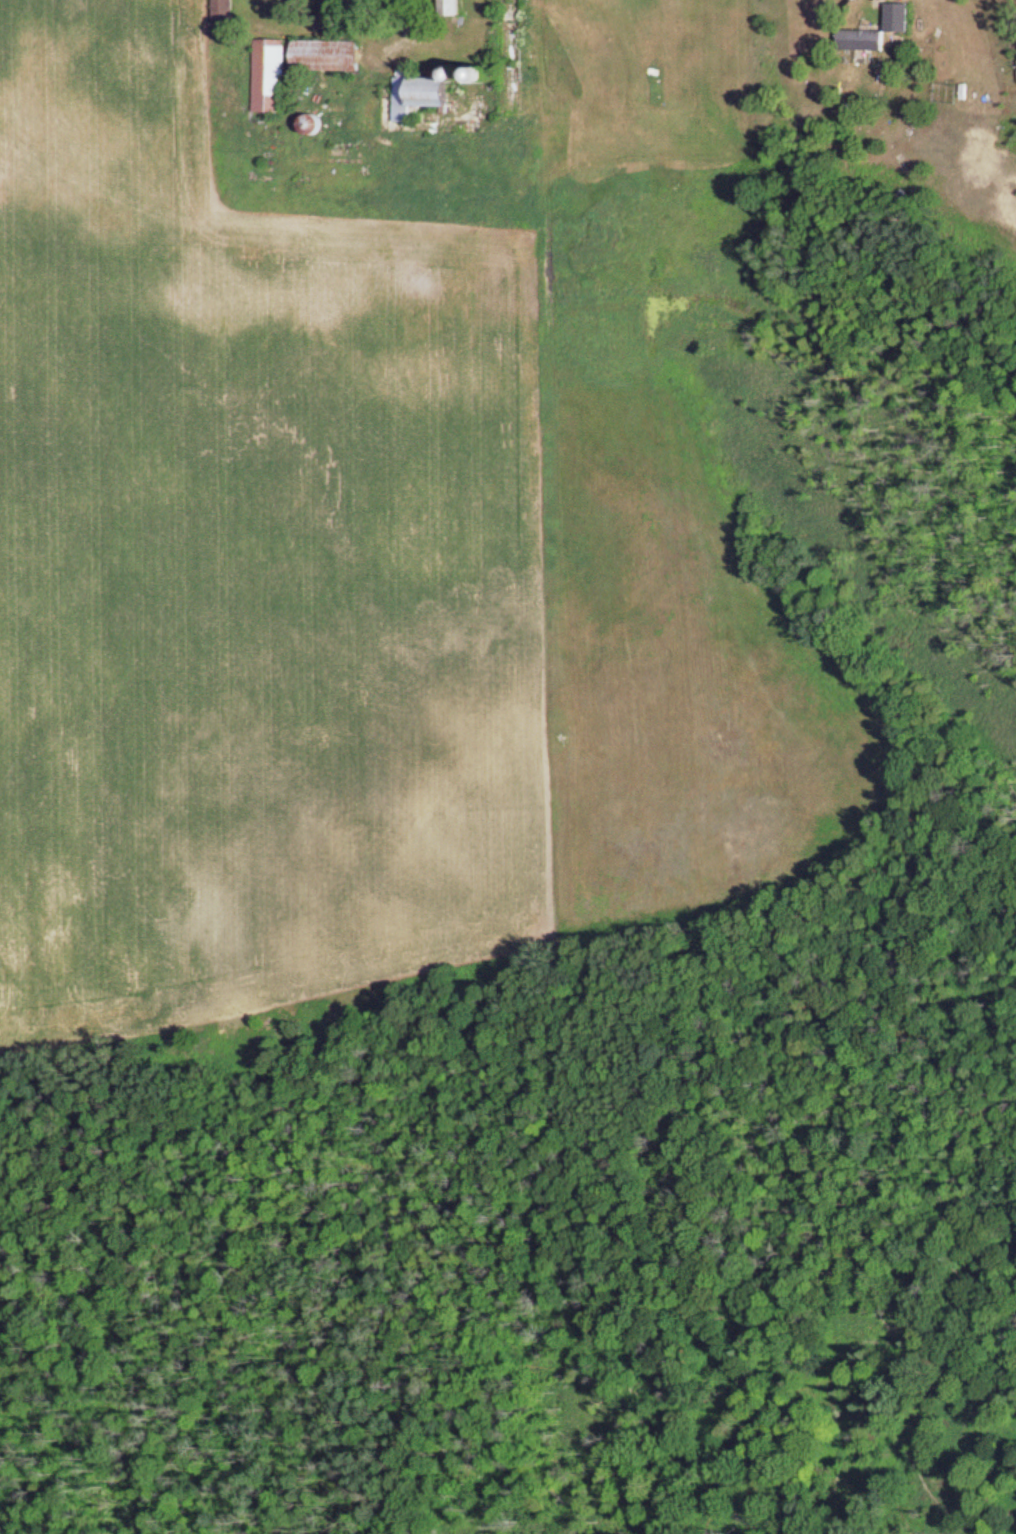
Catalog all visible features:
building: (452, 8)
road: (883, 8)
building: (227, 11)
building: (865, 42)
building: (329, 57)
building: (272, 78)
building: (314, 126)
crop: (346, 584)

